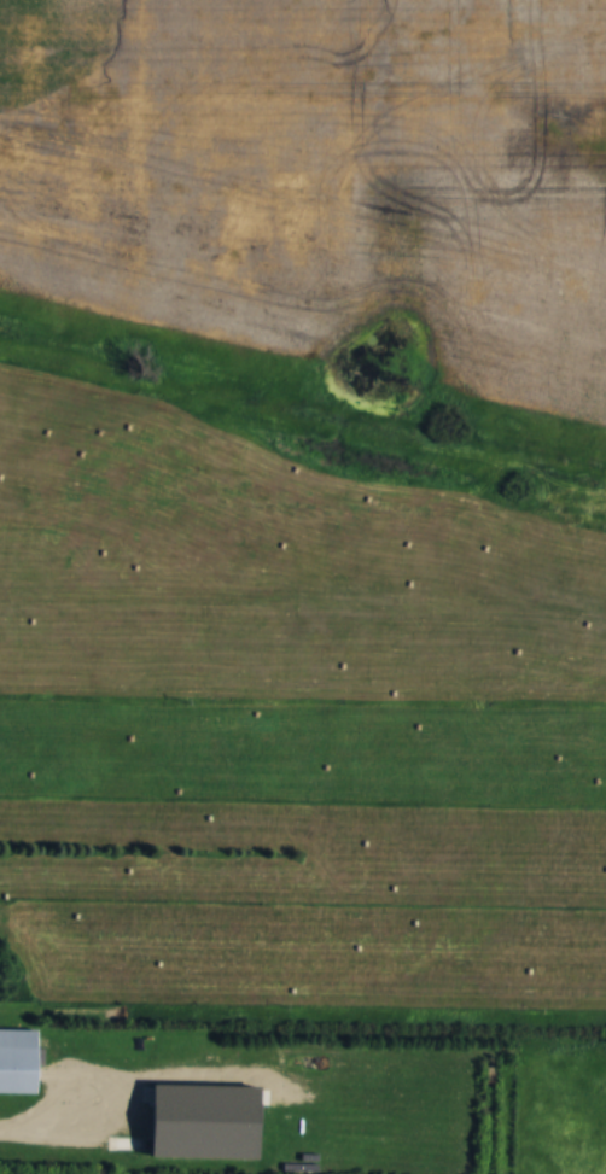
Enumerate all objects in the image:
crop: (322, 173)
building: (23, 1062)

